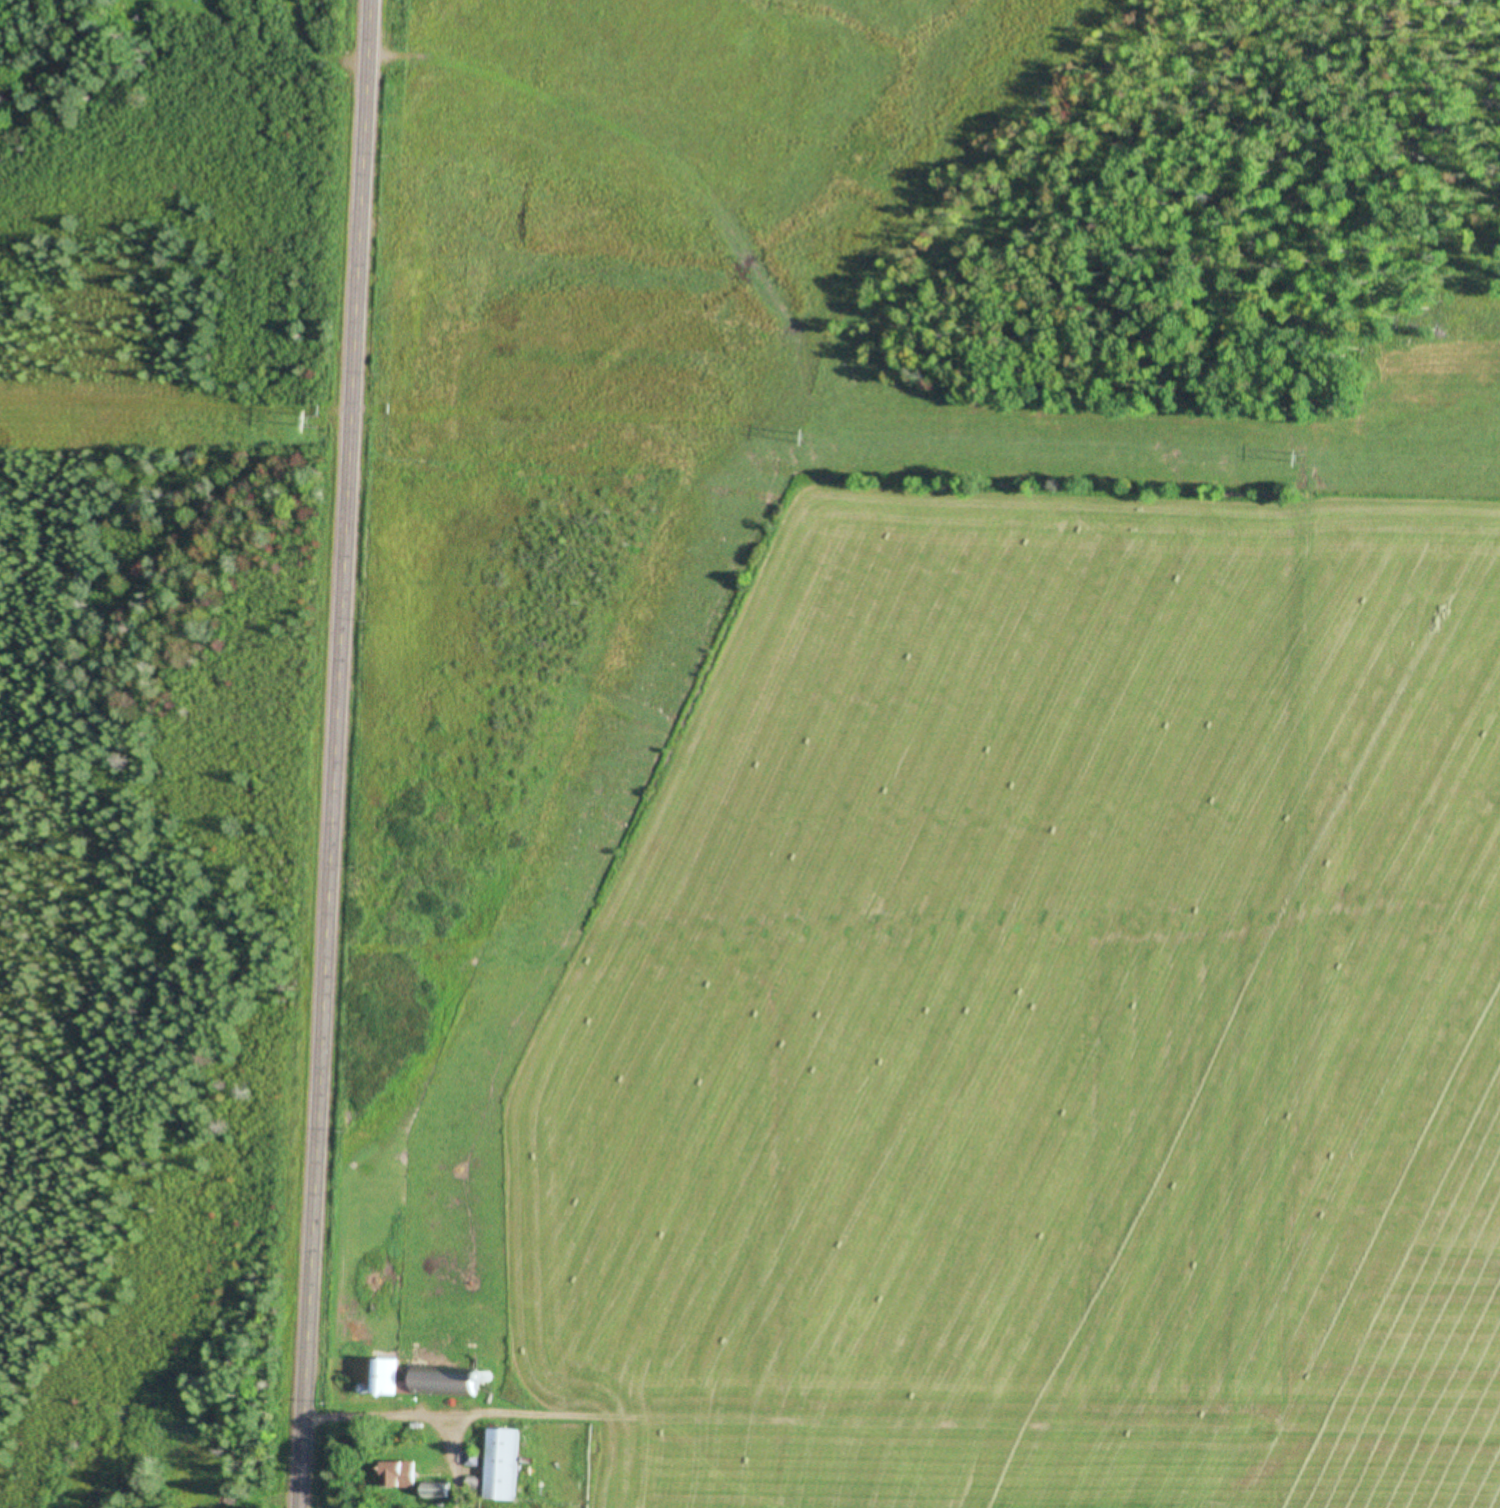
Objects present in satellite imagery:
road: (298, 51)
road: (155, 142)
road: (338, 754)
building: (426, 1384)
road: (444, 1418)
road: (458, 1463)
building: (505, 1467)
building: (402, 1477)

